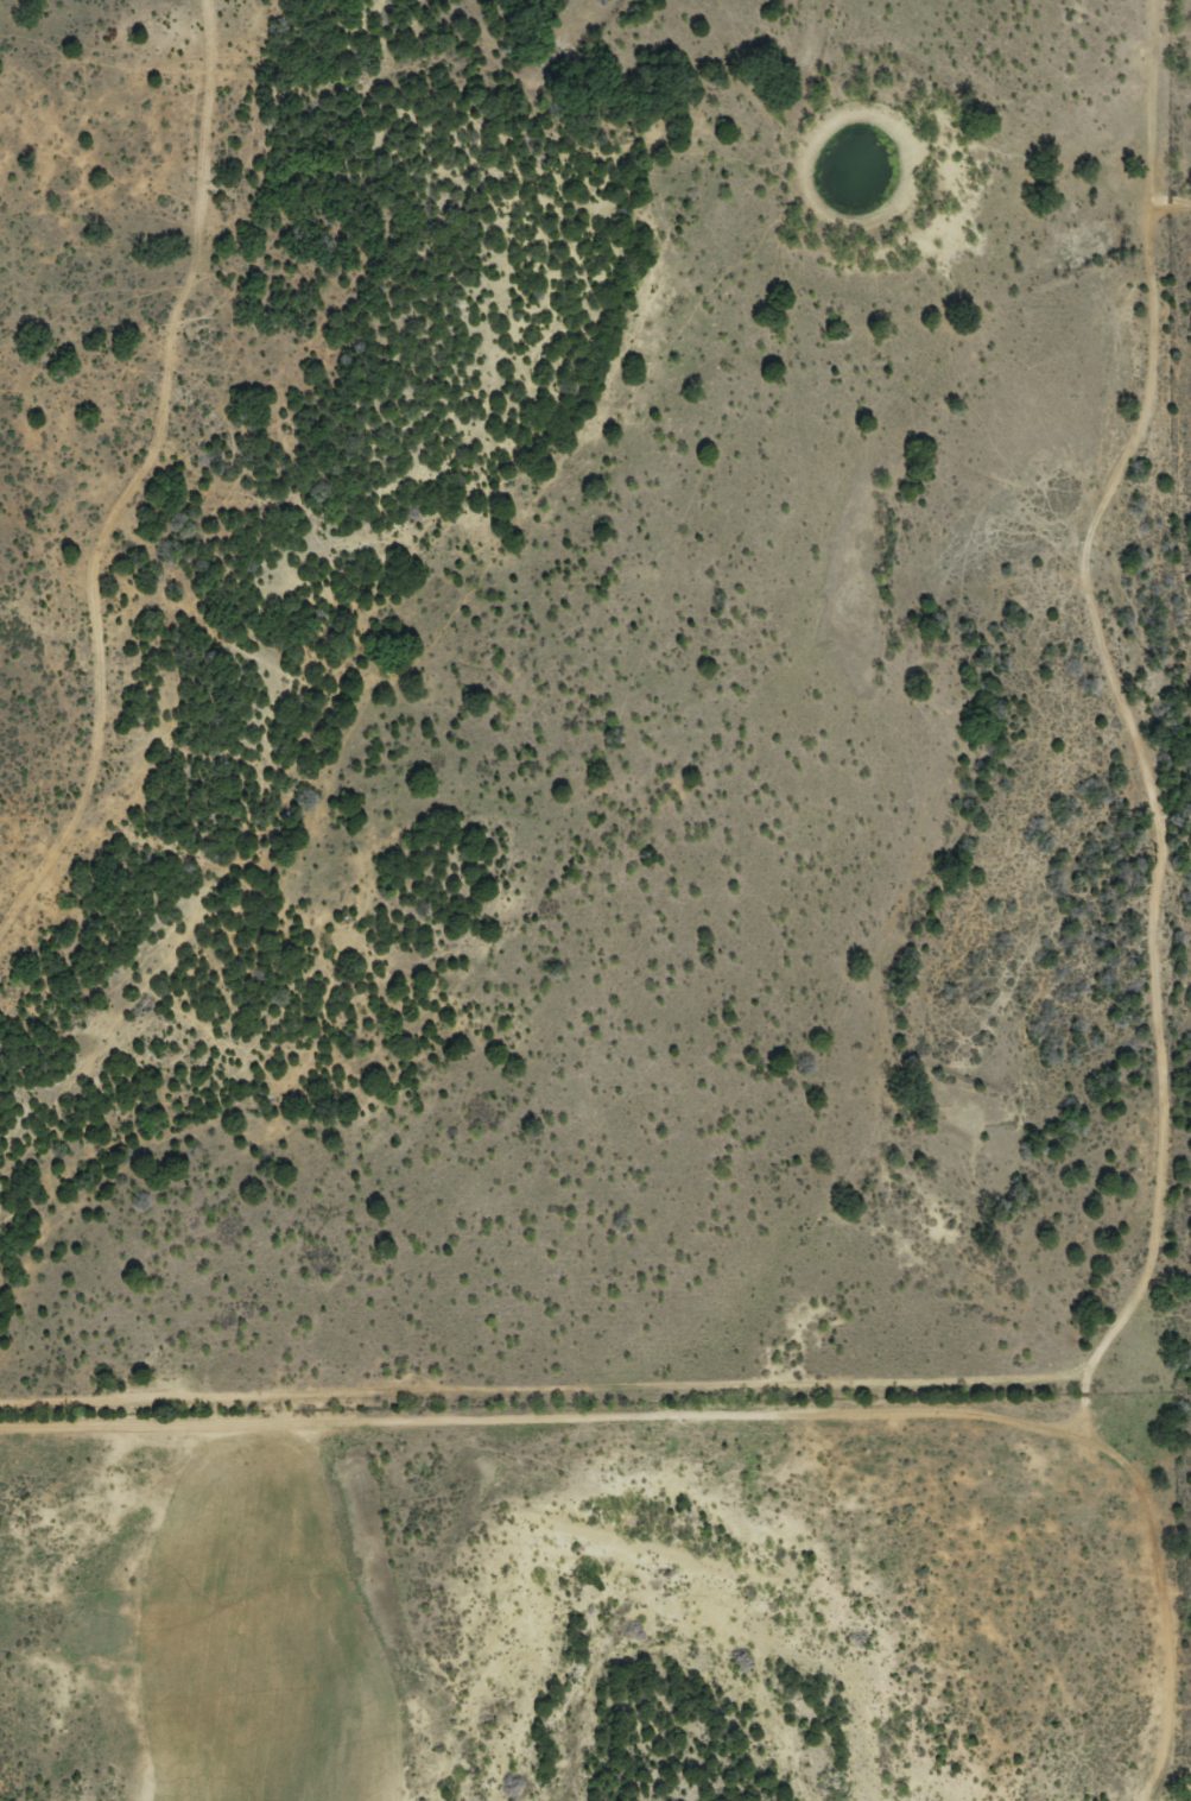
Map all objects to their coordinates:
road: (37, 488)
road: (596, 1480)

